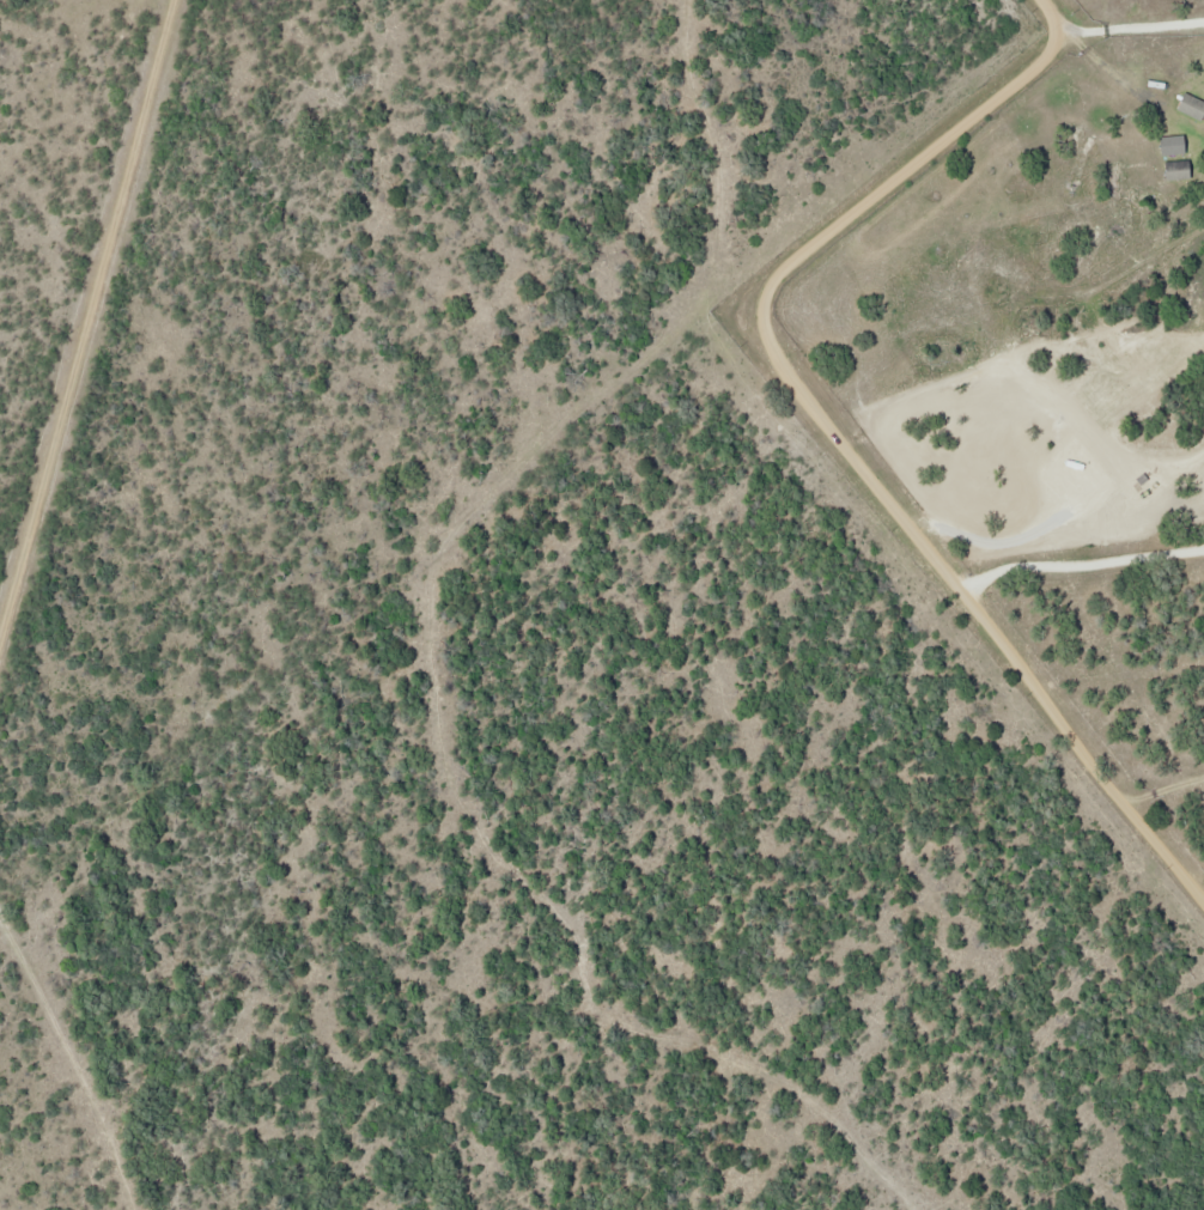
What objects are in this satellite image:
road: (1125, 32)
building: (1193, 104)
building: (1178, 144)
building: (1182, 170)
road: (89, 318)
road: (835, 425)
road: (74, 1062)

